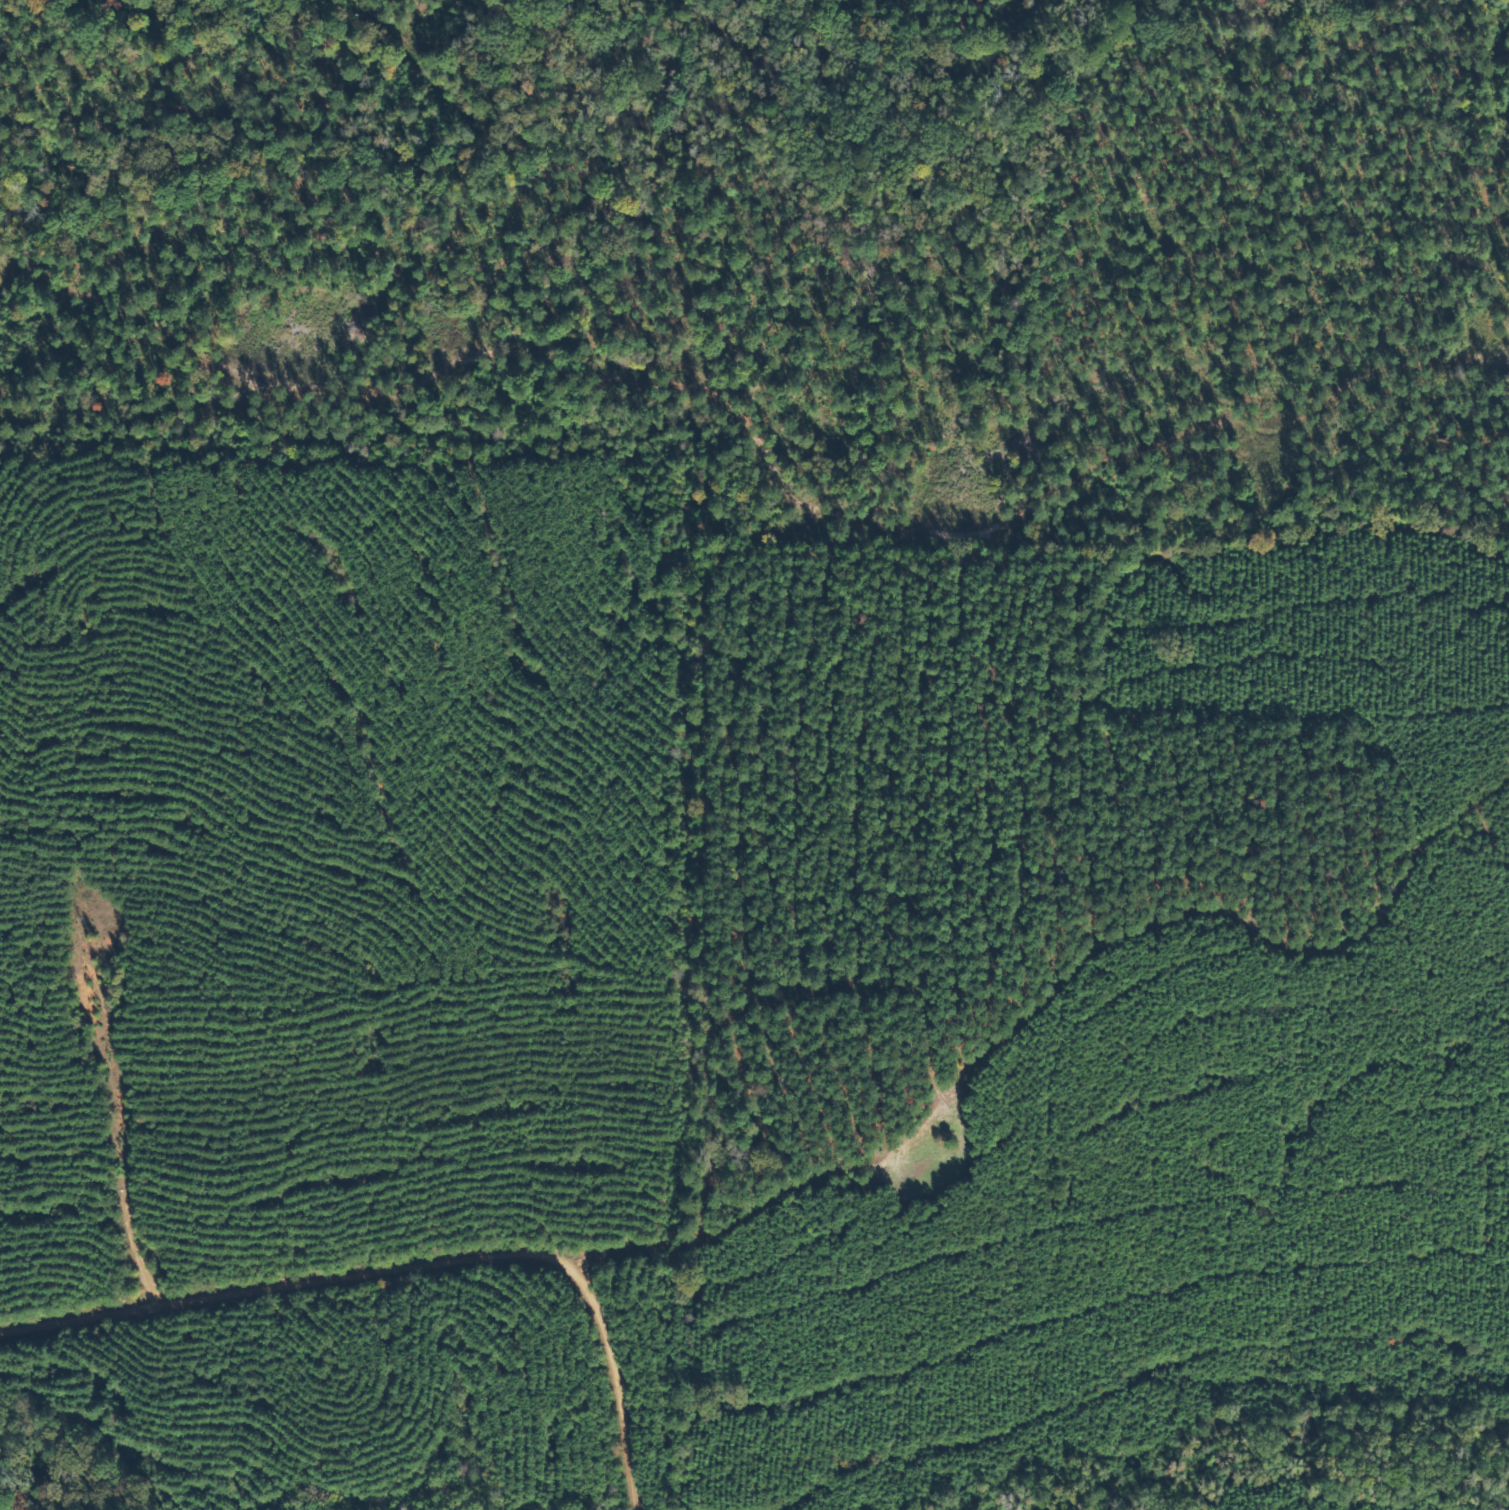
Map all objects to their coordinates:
road: (413, 1267)

